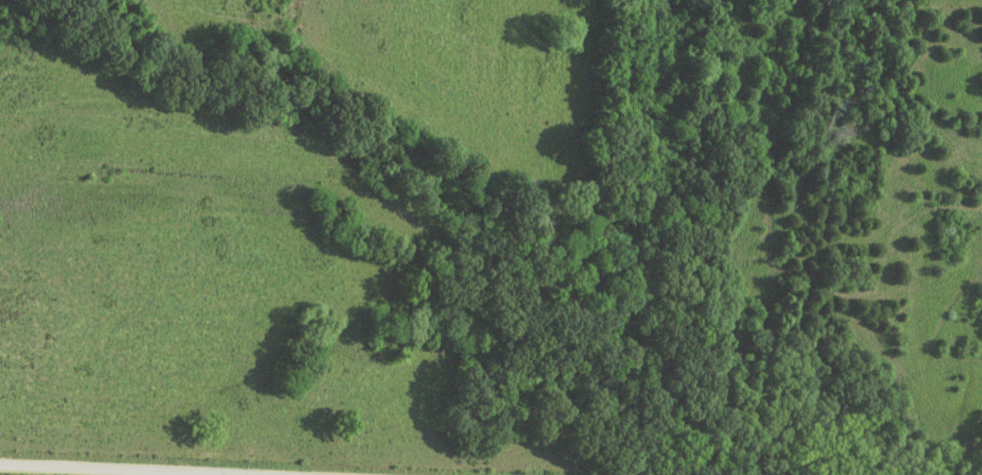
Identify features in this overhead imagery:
road: (91, 470)

